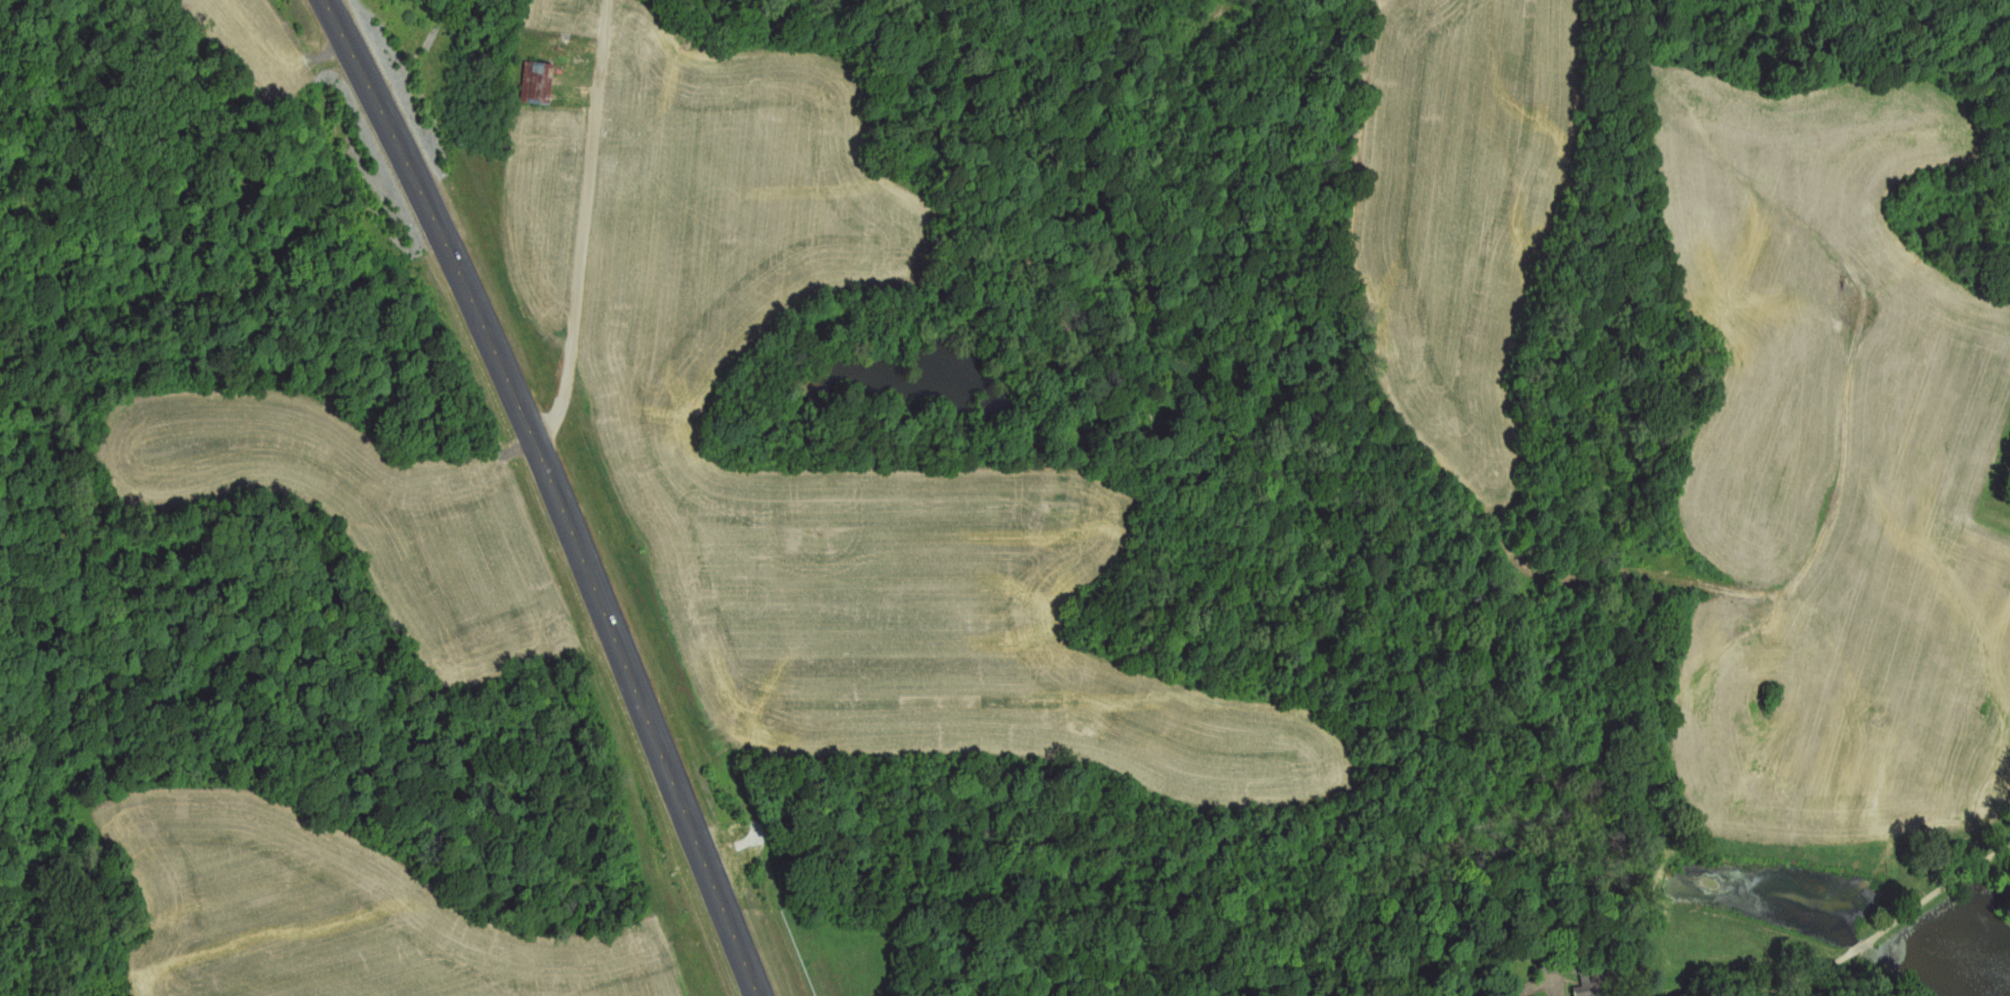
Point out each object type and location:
building: (540, 83)
road: (583, 220)
road: (560, 491)
road: (1527, 845)
road: (1870, 934)
building: (1584, 976)

